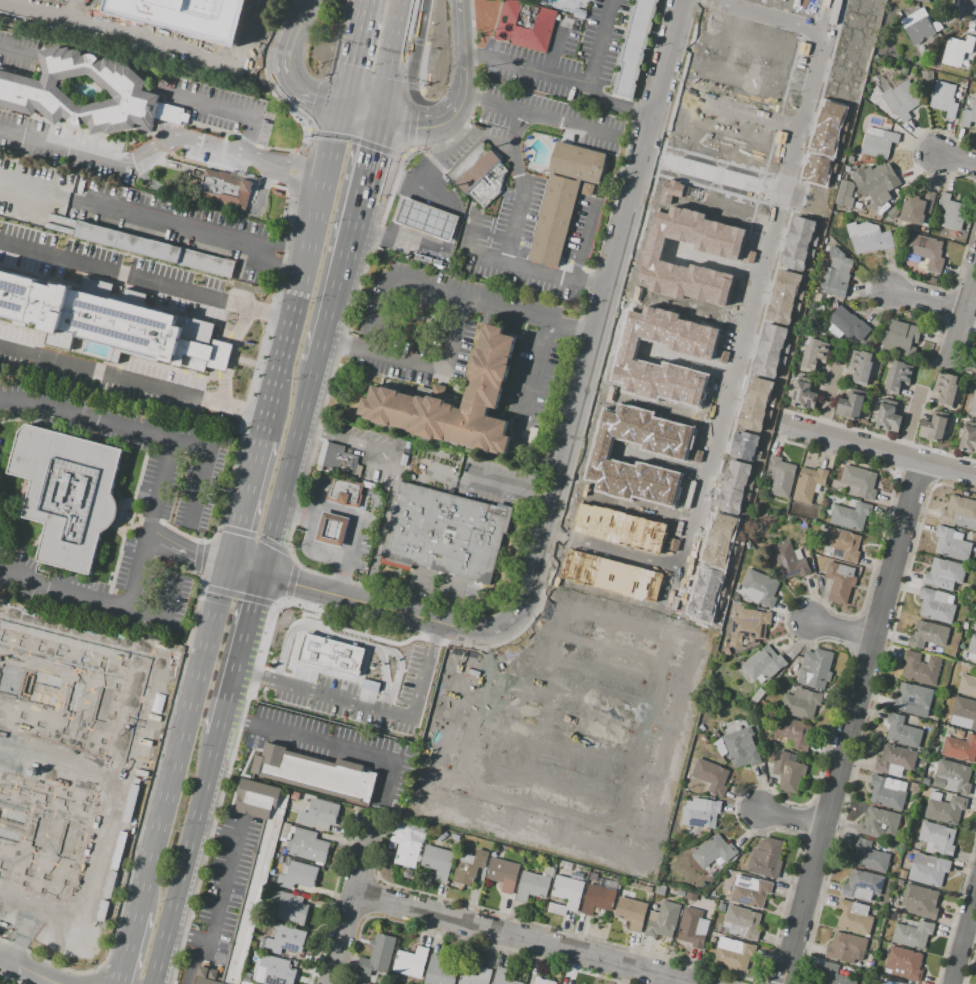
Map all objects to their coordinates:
building: (923, 1)
building: (185, 15)
road: (410, 18)
road: (300, 20)
building: (856, 22)
building: (525, 27)
building: (920, 27)
road: (121, 35)
parking lot: (603, 39)
road: (415, 40)
road: (597, 43)
road: (462, 45)
building: (634, 48)
parking lot: (11, 49)
road: (391, 49)
road: (8, 51)
building: (958, 52)
road: (351, 55)
road: (554, 55)
road: (413, 56)
road: (821, 58)
building: (975, 61)
road: (422, 66)
building: (842, 74)
building: (927, 76)
road: (562, 80)
building: (30, 89)
road: (294, 89)
road: (276, 99)
building: (944, 99)
building: (901, 100)
road: (490, 102)
road: (211, 105)
road: (379, 109)
traffic signals: (340, 110)
building: (969, 113)
road: (358, 115)
road: (414, 119)
traffic signals: (377, 120)
road: (568, 123)
road: (428, 126)
building: (829, 127)
road: (213, 128)
road: (478, 133)
parking lot: (162, 137)
road: (246, 139)
road: (354, 142)
building: (878, 142)
road: (511, 148)
road: (222, 149)
traffic signals: (370, 151)
road: (368, 156)
road: (139, 157)
road: (425, 159)
road: (955, 160)
road: (299, 163)
road: (295, 168)
building: (818, 168)
road: (239, 172)
building: (479, 174)
road: (264, 183)
road: (295, 184)
building: (867, 185)
road: (281, 187)
road: (761, 188)
building: (225, 189)
building: (670, 189)
building: (561, 200)
road: (212, 202)
building: (917, 207)
road: (396, 208)
building: (883, 209)
building: (951, 212)
building: (893, 213)
building: (426, 218)
gas station: (426, 218)
road: (513, 225)
road: (196, 229)
road: (349, 235)
building: (868, 236)
building: (799, 241)
road: (578, 243)
building: (153, 248)
road: (471, 250)
building: (925, 253)
building: (738, 255)
building: (429, 259)
road: (304, 264)
building: (836, 273)
building: (198, 279)
road: (390, 279)
road: (554, 279)
road: (145, 283)
building: (785, 296)
road: (928, 301)
road: (963, 317)
road: (327, 321)
building: (112, 323)
building: (848, 324)
road: (456, 333)
building: (899, 338)
road: (340, 347)
building: (771, 348)
building: (814, 353)
building: (712, 355)
road: (259, 358)
road: (740, 367)
building: (861, 367)
building: (897, 376)
road: (132, 380)
road: (535, 383)
building: (946, 388)
building: (484, 391)
building: (803, 395)
road: (577, 401)
road: (828, 401)
building: (756, 403)
building: (973, 404)
building: (850, 406)
building: (888, 417)
road: (911, 422)
building: (933, 428)
road: (143, 429)
road: (296, 434)
building: (968, 438)
building: (744, 445)
road: (878, 450)
building: (686, 454)
building: (335, 458)
building: (780, 477)
road: (396, 478)
building: (859, 482)
road: (511, 484)
building: (809, 484)
road: (345, 485)
road: (708, 486)
building: (734, 486)
road: (317, 490)
building: (344, 490)
building: (66, 492)
road: (246, 493)
road: (363, 503)
building: (958, 509)
road: (295, 510)
road: (313, 510)
road: (336, 510)
building: (850, 516)
road: (149, 518)
road: (148, 522)
building: (619, 527)
building: (782, 529)
building: (332, 530)
gas station: (332, 530)
building: (757, 530)
building: (445, 533)
road: (254, 535)
road: (190, 536)
road: (351, 537)
building: (720, 540)
road: (269, 541)
building: (672, 544)
building: (843, 544)
building: (951, 544)
road: (308, 549)
road: (184, 553)
road: (197, 557)
road: (691, 560)
building: (790, 560)
traffic signals: (227, 569)
road: (306, 569)
road: (243, 573)
building: (944, 573)
building: (610, 575)
traffic signals: (260, 577)
road: (341, 577)
building: (835, 578)
road: (290, 580)
road: (298, 585)
building: (760, 588)
building: (705, 594)
road: (237, 595)
road: (101, 602)
building: (935, 605)
road: (247, 621)
building: (750, 624)
road: (841, 626)
building: (975, 627)
building: (927, 634)
road: (343, 636)
building: (972, 649)
building: (329, 654)
building: (763, 664)
building: (815, 668)
building: (919, 668)
road: (235, 670)
road: (256, 671)
road: (383, 675)
building: (967, 685)
building: (912, 699)
building: (801, 703)
road: (225, 705)
road: (388, 706)
road: (374, 709)
building: (964, 714)
building: (579, 721)
road: (237, 722)
road: (851, 722)
building: (793, 732)
building: (902, 732)
road: (182, 738)
road: (316, 742)
building: (0, 744)
building: (741, 748)
building: (960, 748)
building: (894, 760)
road: (149, 764)
road: (227, 767)
building: (788, 772)
building: (315, 773)
building: (711, 776)
building: (952, 777)
road: (383, 780)
building: (887, 792)
building: (945, 809)
building: (318, 813)
building: (701, 815)
road: (792, 817)
road: (616, 820)
building: (879, 824)
building: (285, 831)
building: (937, 838)
building: (309, 846)
building: (405, 847)
building: (713, 851)
building: (869, 856)
building: (766, 858)
road: (183, 860)
building: (437, 861)
building: (469, 867)
building: (928, 869)
building: (251, 874)
building: (503, 874)
building: (902, 874)
building: (296, 875)
building: (899, 882)
building: (533, 884)
building: (862, 885)
road: (220, 887)
building: (896, 887)
building: (749, 891)
building: (565, 894)
building: (598, 897)
road: (348, 900)
building: (920, 902)
building: (289, 907)
building: (721, 907)
building: (630, 911)
flagpole: (107, 912)
building: (854, 916)
building: (66, 919)
building: (663, 919)
building: (742, 922)
building: (692, 927)
building: (721, 929)
building: (913, 933)
road: (524, 938)
building: (283, 941)
road: (129, 942)
road: (965, 943)
building: (845, 947)
building: (733, 954)
building: (377, 955)
road: (193, 958)
building: (411, 962)
building: (903, 963)
road: (30, 970)
building: (275, 971)
building: (439, 971)
building: (833, 975)
road: (95, 977)
building: (476, 977)
building: (503, 977)
road: (128, 979)
road: (119, 980)
building: (381, 981)
building: (542, 981)
building: (888, 981)

